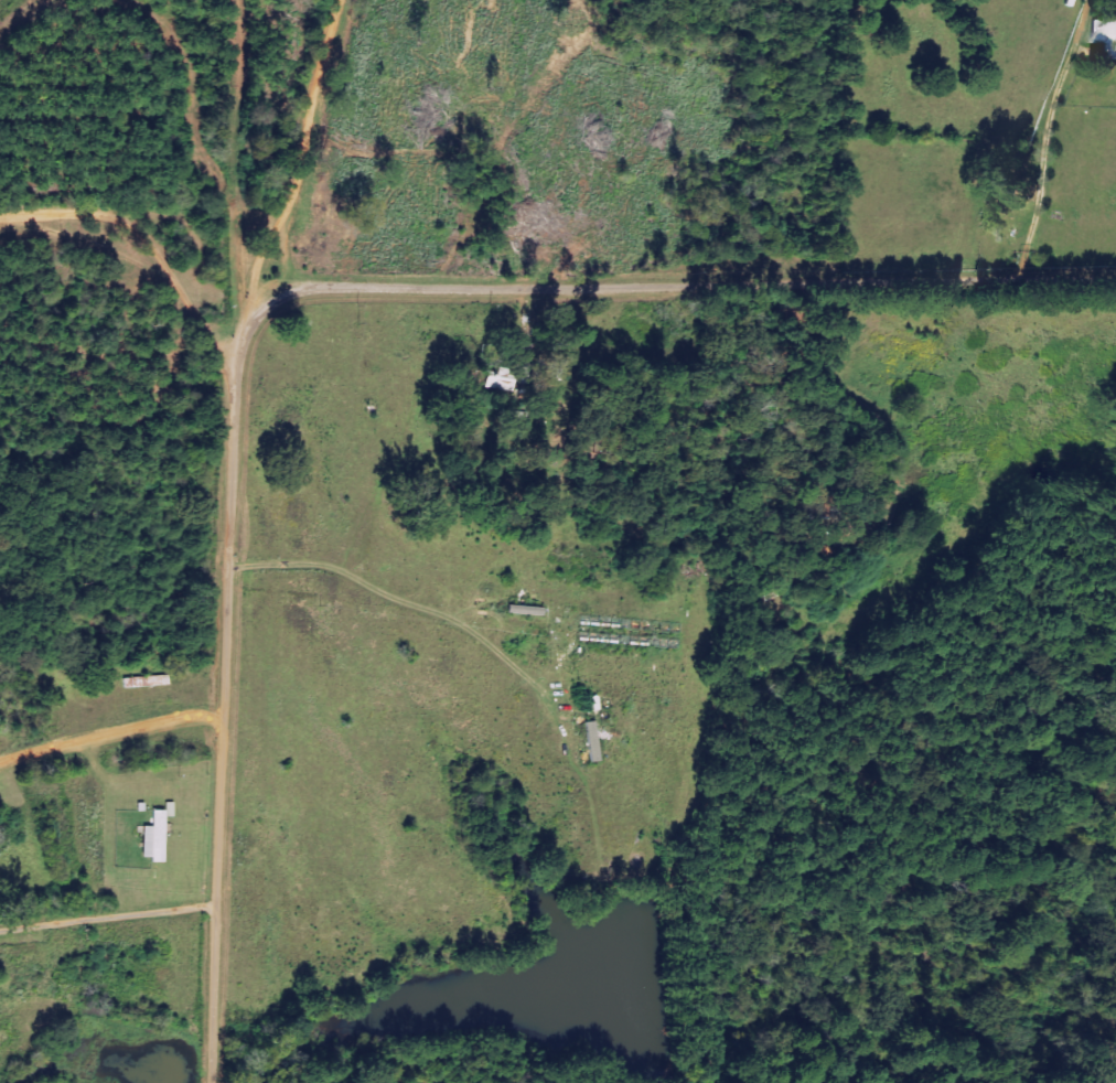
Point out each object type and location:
building: (1106, 34)
road: (93, 55)
road: (292, 184)
road: (324, 332)
road: (163, 353)
road: (1050, 504)
road: (112, 731)
building: (158, 837)
road: (111, 918)

